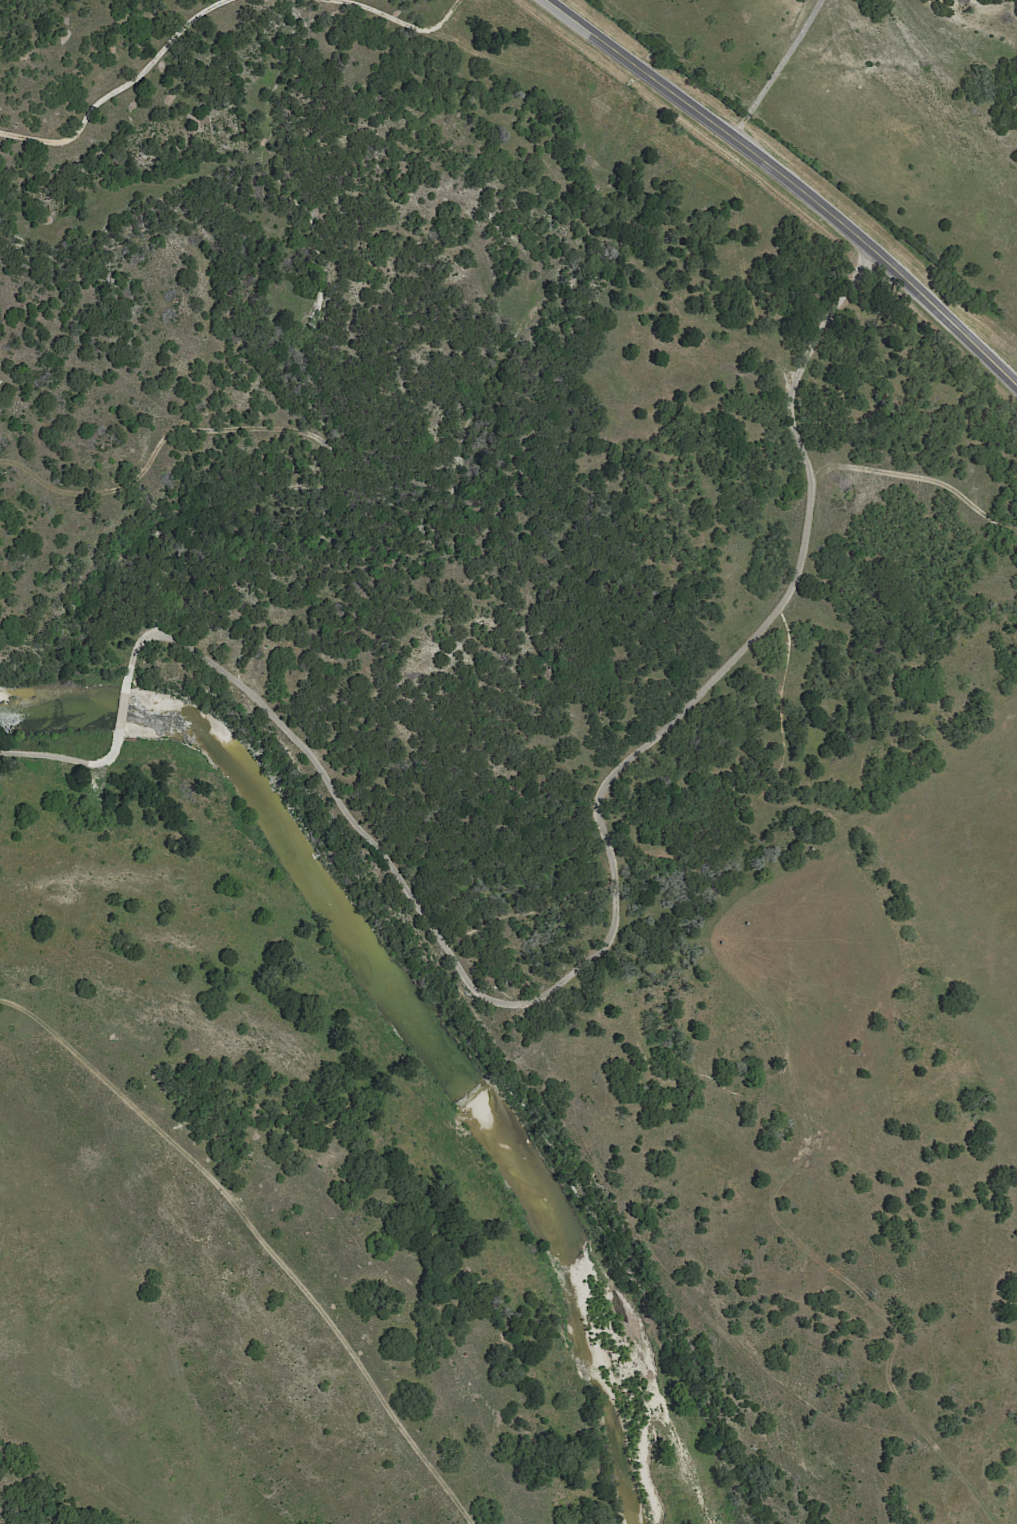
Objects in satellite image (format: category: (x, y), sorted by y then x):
road: (776, 67)
road: (793, 181)

